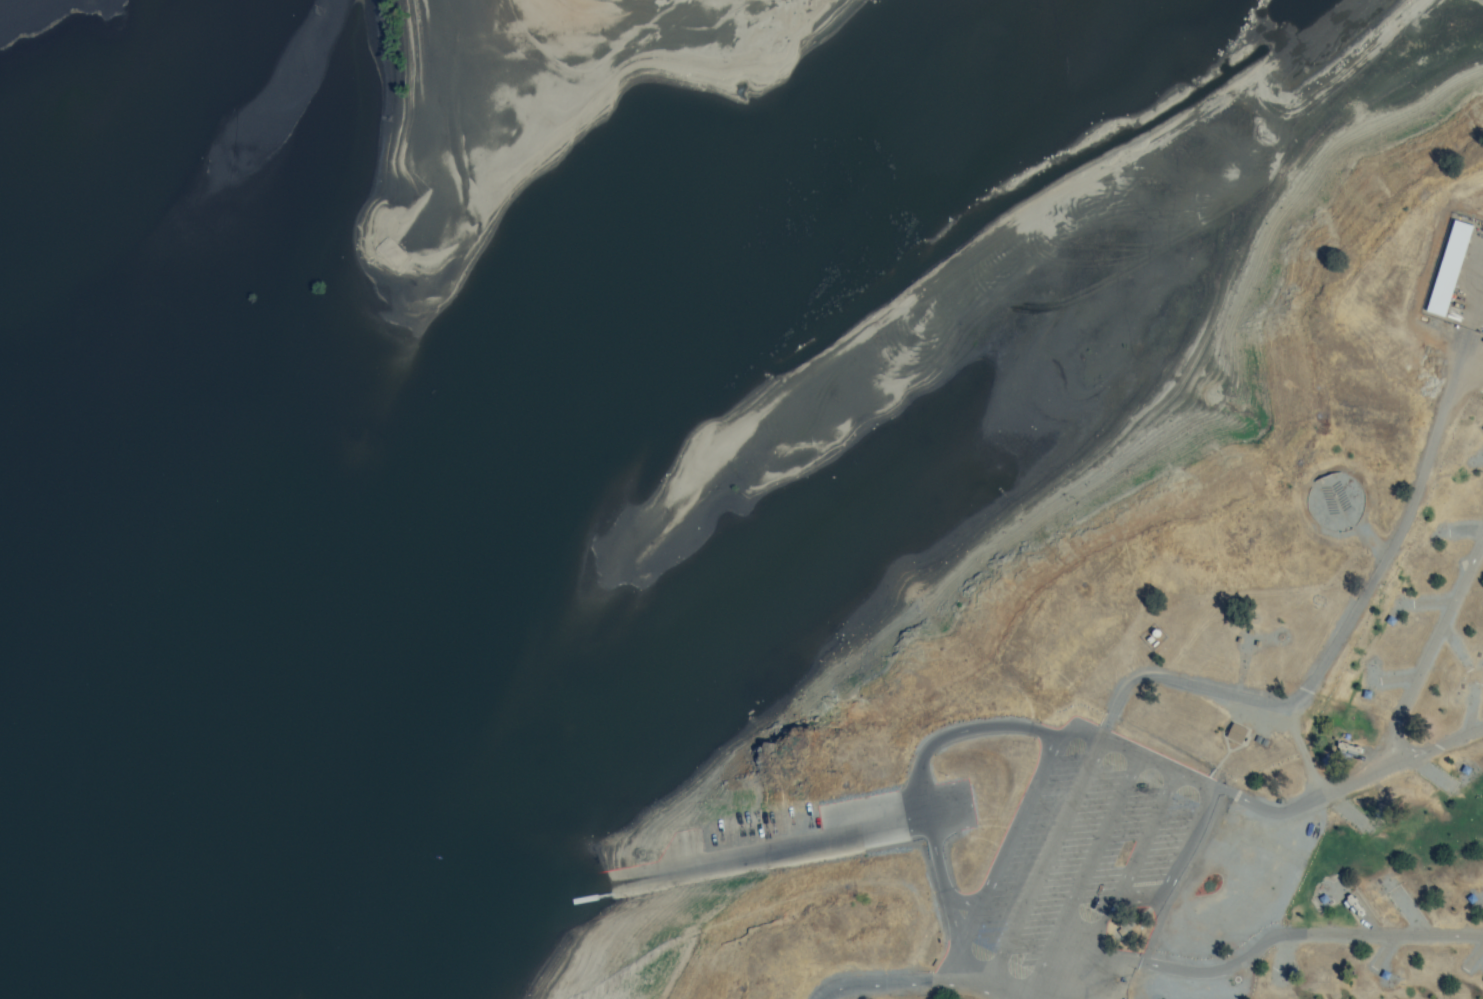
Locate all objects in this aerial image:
building: (1448, 269)
building: (1236, 733)

